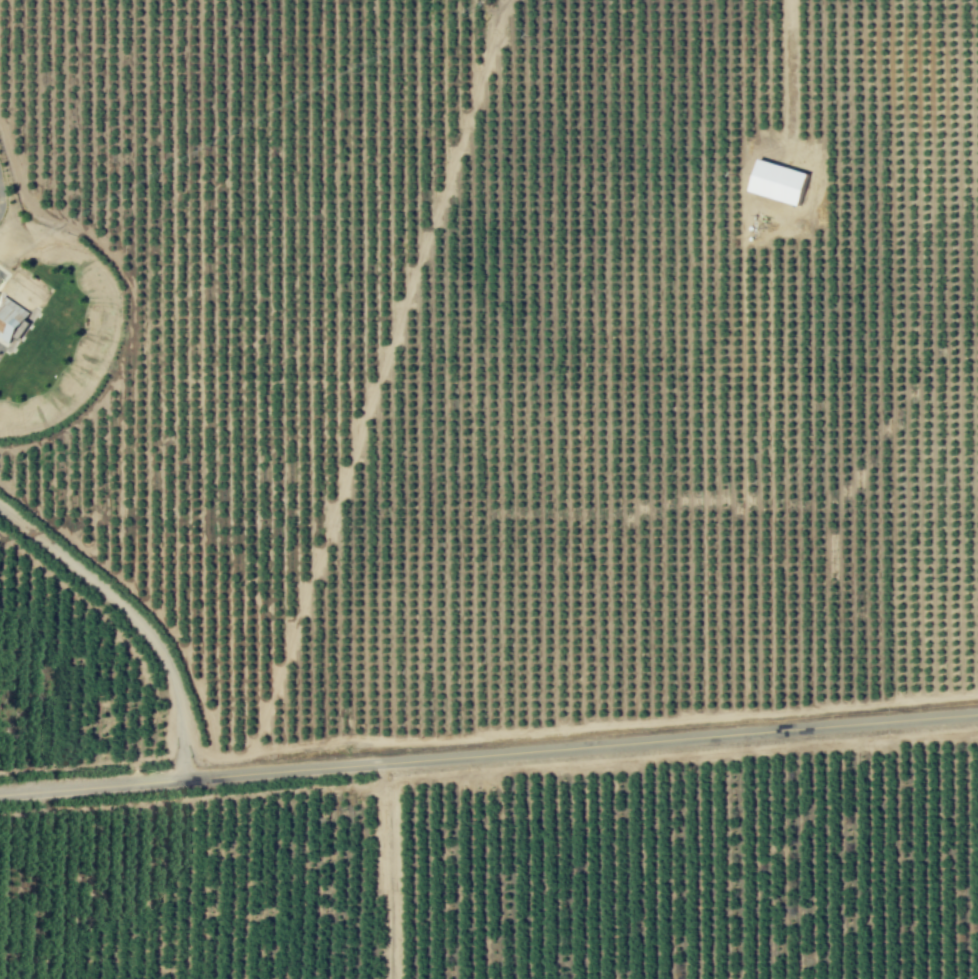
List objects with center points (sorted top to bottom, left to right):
building: (10, 318)
road: (102, 589)
road: (183, 737)
road: (489, 757)

